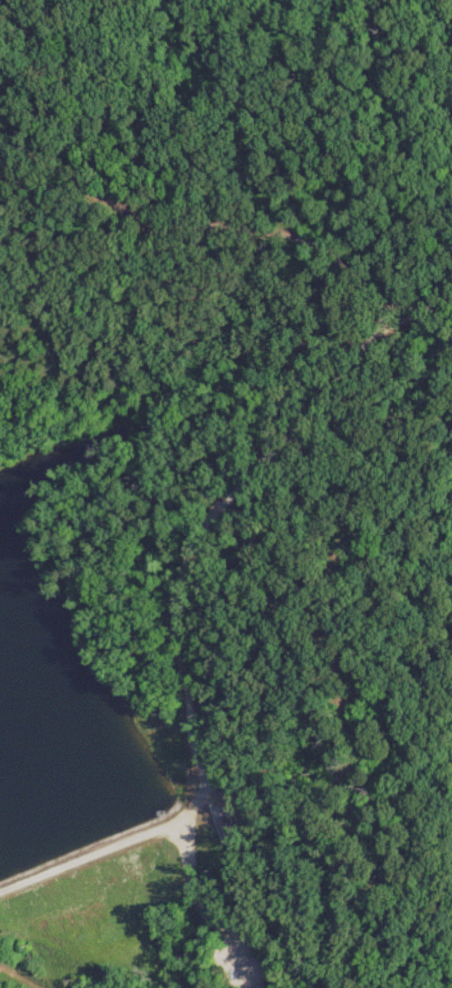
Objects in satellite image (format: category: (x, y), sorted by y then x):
road: (80, 857)

